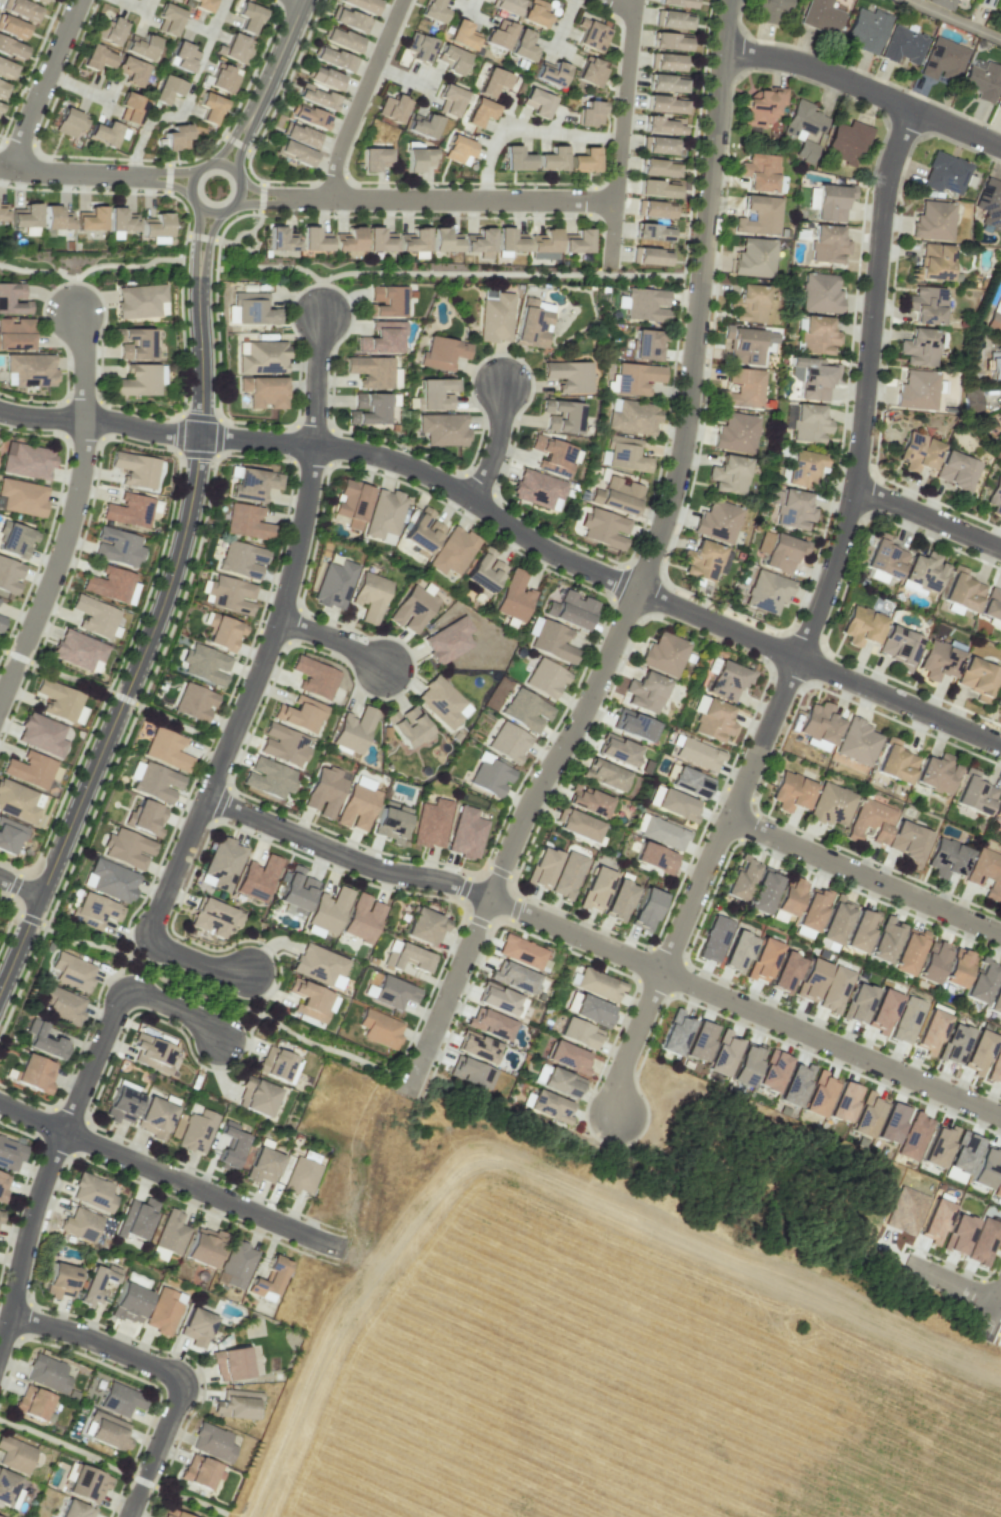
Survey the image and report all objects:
building: (924, 0)
building: (40, 1)
street lamp: (645, 2)
building: (676, 3)
building: (942, 3)
building: (984, 3)
building: (198, 4)
road: (622, 4)
building: (773, 4)
street lamp: (92, 5)
building: (361, 5)
road: (134, 6)
road: (472, 6)
building: (506, 6)
building: (20, 9)
building: (431, 10)
building: (534, 13)
building: (821, 16)
building: (248, 17)
building: (167, 19)
building: (348, 19)
road: (955, 19)
building: (672, 20)
building: (12, 27)
building: (866, 29)
road: (560, 30)
building: (110, 31)
road: (213, 31)
building: (460, 35)
building: (498, 35)
building: (591, 35)
building: (340, 39)
building: (669, 41)
building: (522, 45)
building: (903, 45)
building: (140, 46)
building: (418, 47)
building: (235, 48)
building: (11, 49)
road: (279, 55)
building: (96, 57)
building: (182, 57)
building: (332, 58)
building: (450, 59)
building: (943, 59)
building: (666, 62)
building: (6, 69)
building: (130, 70)
building: (590, 72)
building: (550, 73)
road: (402, 76)
building: (323, 77)
building: (223, 79)
building: (982, 81)
building: (492, 82)
building: (665, 83)
road: (42, 84)
road: (79, 87)
building: (2, 88)
road: (864, 88)
building: (166, 89)
building: (315, 97)
road: (362, 97)
building: (449, 99)
building: (536, 102)
building: (0, 104)
building: (664, 104)
building: (999, 104)
building: (762, 105)
building: (209, 107)
building: (130, 108)
building: (391, 108)
building: (479, 112)
building: (590, 114)
building: (308, 116)
building: (69, 122)
road: (147, 125)
building: (422, 125)
building: (662, 125)
building: (804, 129)
road: (525, 131)
building: (103, 133)
road: (620, 133)
building: (300, 135)
road: (232, 136)
building: (176, 137)
building: (845, 140)
road: (244, 142)
building: (658, 145)
building: (457, 150)
building: (294, 152)
street lamp: (326, 155)
street lamp: (246, 156)
building: (373, 158)
building: (417, 158)
building: (516, 159)
building: (552, 159)
building: (584, 160)
street lamp: (178, 162)
building: (656, 167)
building: (758, 172)
road: (70, 173)
road: (169, 173)
building: (944, 173)
road: (235, 175)
street lamp: (9, 184)
road: (167, 184)
street lamp: (73, 187)
building: (656, 188)
road: (264, 191)
street lamp: (626, 193)
road: (453, 199)
building: (830, 202)
street lamp: (898, 202)
road: (264, 204)
building: (989, 204)
building: (654, 209)
street lamp: (253, 210)
building: (2, 212)
street lamp: (332, 213)
building: (757, 215)
building: (25, 216)
building: (55, 218)
building: (90, 218)
building: (121, 220)
building: (932, 221)
building: (156, 228)
building: (651, 232)
building: (313, 239)
building: (378, 239)
building: (348, 240)
building: (443, 241)
building: (281, 242)
building: (414, 242)
building: (479, 242)
building: (508, 242)
building: (577, 242)
road: (197, 244)
building: (826, 244)
building: (543, 245)
road: (206, 246)
building: (649, 257)
building: (753, 258)
building: (934, 262)
park: (92, 265)
park: (393, 265)
road: (90, 268)
street lamp: (213, 268)
building: (998, 270)
building: (819, 293)
road: (74, 295)
building: (12, 299)
building: (140, 301)
building: (385, 301)
building: (748, 303)
building: (644, 304)
building: (925, 305)
building: (253, 308)
building: (495, 318)
building: (994, 318)
building: (531, 324)
building: (15, 334)
building: (816, 335)
building: (381, 337)
building: (133, 342)
building: (646, 345)
building: (741, 345)
street lamp: (186, 347)
building: (918, 347)
building: (442, 353)
building: (262, 357)
road: (82, 364)
building: (994, 365)
building: (29, 370)
building: (370, 370)
building: (569, 376)
building: (812, 377)
building: (635, 378)
road: (316, 379)
building: (139, 380)
building: (743, 388)
building: (916, 390)
building: (264, 391)
building: (435, 393)
building: (970, 400)
building: (369, 407)
street lamp: (879, 407)
building: (562, 416)
road: (41, 417)
building: (632, 417)
building: (807, 423)
building: (442, 429)
building: (1000, 430)
building: (735, 433)
road: (197, 434)
road: (495, 446)
building: (917, 452)
building: (623, 454)
building: (553, 455)
street lamp: (278, 457)
building: (26, 461)
street lamp: (210, 467)
building: (802, 468)
building: (135, 469)
building: (955, 470)
building: (728, 474)
building: (252, 483)
street lamp: (62, 486)
building: (537, 488)
building: (616, 495)
building: (22, 497)
street lamp: (835, 497)
building: (350, 503)
street lamp: (458, 510)
building: (793, 510)
building: (128, 511)
building: (383, 515)
road: (926, 517)
building: (716, 521)
building: (246, 522)
building: (604, 528)
building: (422, 532)
building: (16, 540)
building: (117, 547)
building: (452, 551)
building: (782, 553)
road: (835, 553)
street lamp: (634, 557)
building: (882, 558)
building: (241, 559)
building: (701, 560)
road: (54, 562)
street lamp: (547, 567)
road: (644, 568)
street lamp: (157, 571)
building: (482, 571)
building: (923, 572)
building: (9, 575)
street lamp: (844, 579)
building: (109, 584)
building: (333, 584)
street lamp: (64, 586)
building: (961, 590)
building: (766, 591)
building: (229, 595)
building: (369, 596)
road: (653, 596)
building: (513, 597)
building: (991, 604)
building: (411, 609)
building: (571, 610)
building: (94, 616)
building: (1, 621)
building: (860, 625)
building: (223, 632)
road: (332, 637)
building: (447, 640)
building: (550, 640)
road: (145, 646)
building: (896, 646)
park: (3, 648)
road: (3, 649)
building: (77, 649)
building: (663, 654)
road: (18, 656)
street lamp: (759, 658)
building: (939, 659)
building: (205, 664)
street lamp: (416, 669)
street lamp: (865, 671)
park: (70, 677)
road: (70, 677)
building: (313, 677)
building: (545, 678)
building: (976, 678)
building: (725, 679)
street lamp: (142, 692)
building: (644, 692)
road: (123, 697)
road: (247, 697)
building: (998, 697)
building: (57, 700)
building: (193, 702)
building: (441, 702)
building: (525, 710)
building: (1000, 711)
building: (299, 714)
road: (173, 720)
building: (713, 721)
park: (173, 722)
building: (819, 723)
building: (633, 725)
building: (407, 727)
building: (352, 730)
building: (41, 734)
building: (507, 742)
building: (856, 742)
building: (282, 744)
street lamp: (777, 744)
building: (165, 749)
building: (617, 749)
building: (697, 754)
building: (894, 762)
building: (31, 770)
building: (603, 774)
building: (935, 774)
building: (490, 777)
building: (268, 778)
building: (154, 781)
building: (689, 782)
building: (323, 792)
building: (790, 792)
building: (973, 792)
building: (17, 801)
building: (587, 801)
building: (676, 805)
building: (830, 805)
building: (356, 807)
street lamp: (715, 807)
building: (997, 808)
building: (145, 818)
building: (391, 820)
building: (869, 821)
building: (430, 823)
building: (576, 825)
building: (466, 833)
building: (662, 833)
building: (10, 836)
building: (907, 842)
building: (126, 849)
street lamp: (289, 849)
street lamp: (765, 850)
building: (654, 858)
building: (946, 858)
building: (221, 864)
street lamp: (876, 864)
building: (541, 867)
street lamp: (516, 868)
building: (985, 872)
building: (567, 875)
road: (865, 875)
building: (256, 878)
building: (739, 879)
building: (110, 880)
road: (20, 886)
street lamp: (183, 886)
building: (594, 888)
building: (295, 891)
building: (762, 891)
building: (789, 897)
building: (618, 900)
street lamp: (707, 900)
building: (1000, 903)
park: (10, 907)
building: (646, 909)
building: (93, 910)
building: (328, 910)
building: (811, 910)
building: (213, 917)
building: (361, 918)
building: (424, 927)
building: (859, 930)
street lamp: (958, 932)
building: (714, 939)
building: (883, 940)
street lamp: (130, 945)
road: (605, 947)
street lamp: (642, 947)
street lamp: (569, 948)
building: (520, 951)
building: (737, 951)
building: (907, 951)
building: (405, 957)
building: (762, 960)
road: (193, 961)
building: (931, 963)
building: (317, 964)
building: (957, 968)
building: (70, 972)
building: (784, 972)
building: (512, 977)
building: (811, 978)
building: (979, 981)
building: (598, 985)
building: (834, 989)
building: (392, 993)
street lamp: (681, 996)
building: (995, 996)
street lamp: (761, 997)
park: (220, 999)
road: (218, 1000)
building: (310, 1000)
building: (500, 1000)
building: (856, 1002)
street lamp: (99, 1003)
building: (63, 1005)
building: (592, 1010)
road: (173, 1011)
building: (882, 1011)
building: (905, 1019)
building: (489, 1024)
building: (379, 1029)
building: (930, 1029)
building: (674, 1032)
building: (577, 1033)
building: (43, 1040)
road: (633, 1041)
building: (698, 1041)
building: (954, 1043)
building: (476, 1046)
building: (978, 1052)
building: (151, 1053)
building: (722, 1053)
building: (567, 1057)
building: (274, 1063)
building: (745, 1064)
street lamp: (845, 1065)
building: (995, 1066)
building: (771, 1071)
building: (469, 1072)
building: (34, 1073)
street lamp: (952, 1079)
building: (561, 1082)
building: (794, 1084)
building: (256, 1096)
building: (843, 1102)
building: (121, 1104)
building: (548, 1105)
street lamp: (89, 1106)
building: (865, 1116)
building: (154, 1117)
building: (891, 1122)
building: (196, 1131)
building: (913, 1136)
building: (228, 1144)
building: (938, 1145)
building: (963, 1153)
building: (10, 1154)
building: (262, 1165)
road: (47, 1166)
building: (985, 1167)
road: (169, 1175)
building: (300, 1176)
building: (3, 1185)
building: (997, 1188)
street lamp: (168, 1192)
building: (92, 1193)
street lamp: (265, 1201)
building: (0, 1213)
building: (134, 1219)
building: (934, 1221)
building: (79, 1224)
building: (170, 1233)
building: (957, 1234)
building: (982, 1241)
building: (203, 1247)
building: (237, 1264)
building: (268, 1279)
building: (59, 1280)
road: (949, 1281)
building: (95, 1284)
road: (976, 1292)
building: (129, 1303)
building: (164, 1311)
road: (991, 1314)
building: (196, 1327)
road: (986, 1328)
street lamp: (193, 1363)
building: (231, 1364)
road: (163, 1369)
building: (47, 1373)
crop: (611, 1374)
building: (120, 1399)
building: (32, 1402)
building: (236, 1404)
building: (109, 1432)
building: (212, 1442)
park: (66, 1446)
building: (15, 1454)
building: (198, 1471)
building: (86, 1483)
building: (7, 1487)
park: (190, 1498)
building: (170, 1513)

